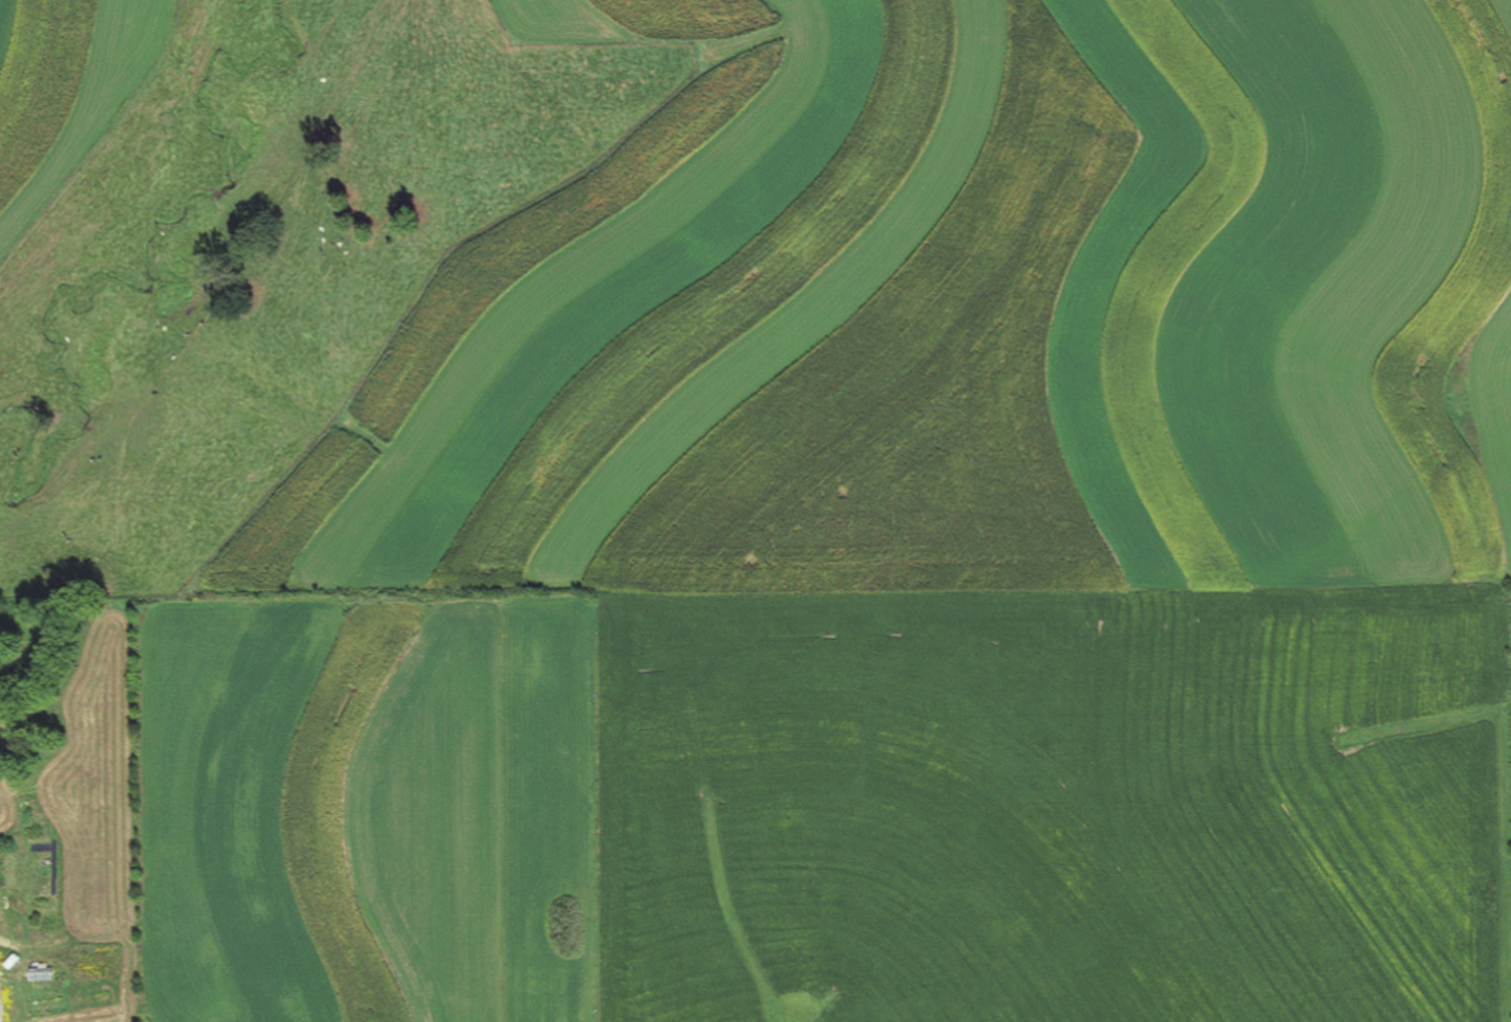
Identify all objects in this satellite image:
road: (6, 946)
building: (3, 995)

